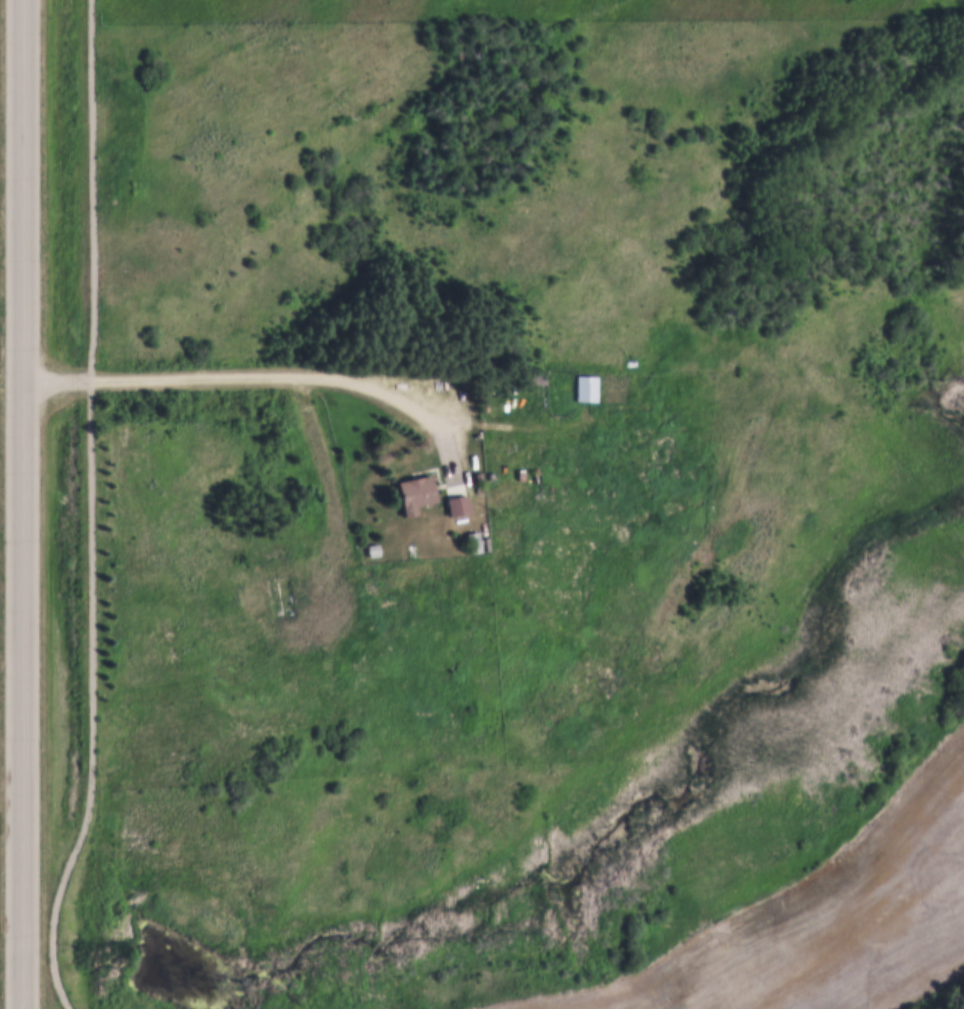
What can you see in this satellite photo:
building: (633, 359)
building: (540, 375)
road: (273, 376)
building: (586, 385)
road: (538, 424)
building: (415, 490)
building: (458, 502)
road: (21, 504)
road: (86, 508)
building: (472, 539)
building: (372, 547)
building: (283, 599)

